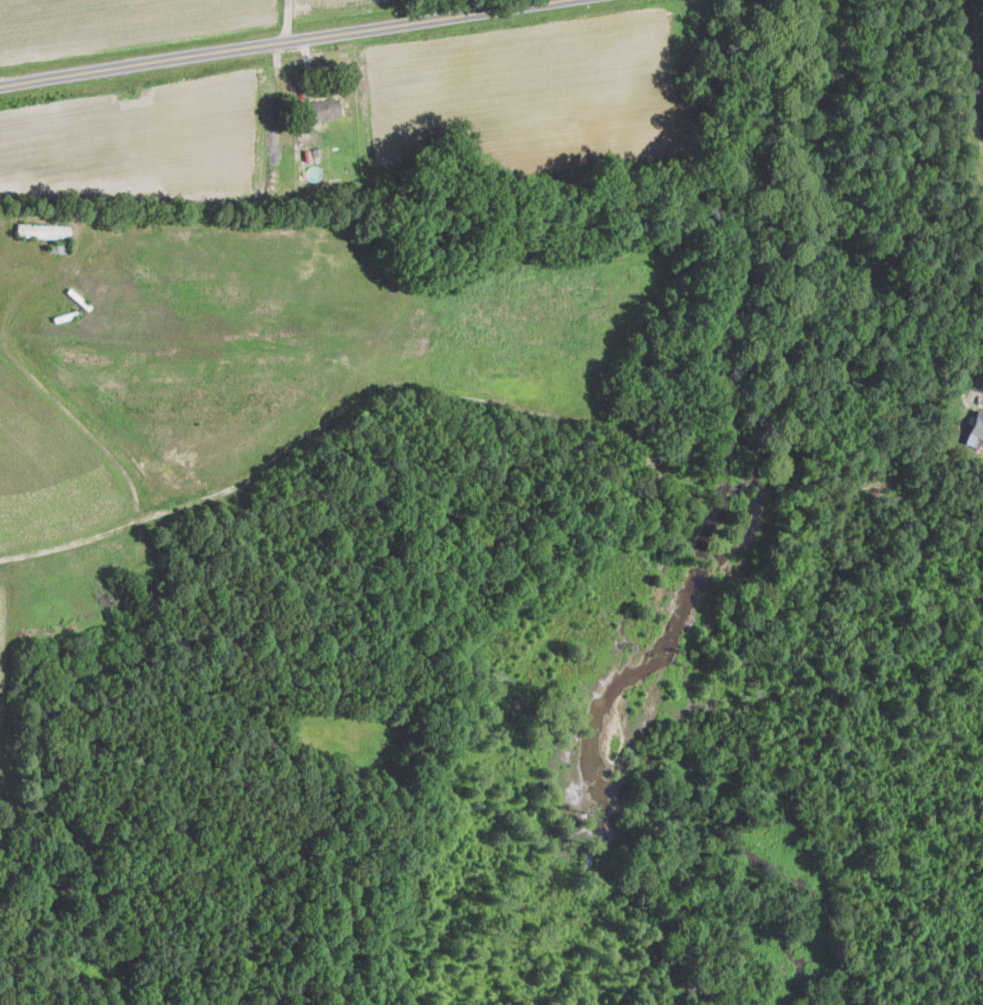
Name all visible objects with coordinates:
road: (284, 23)
road: (277, 46)
road: (972, 58)
building: (323, 109)
building: (43, 231)
building: (977, 426)

